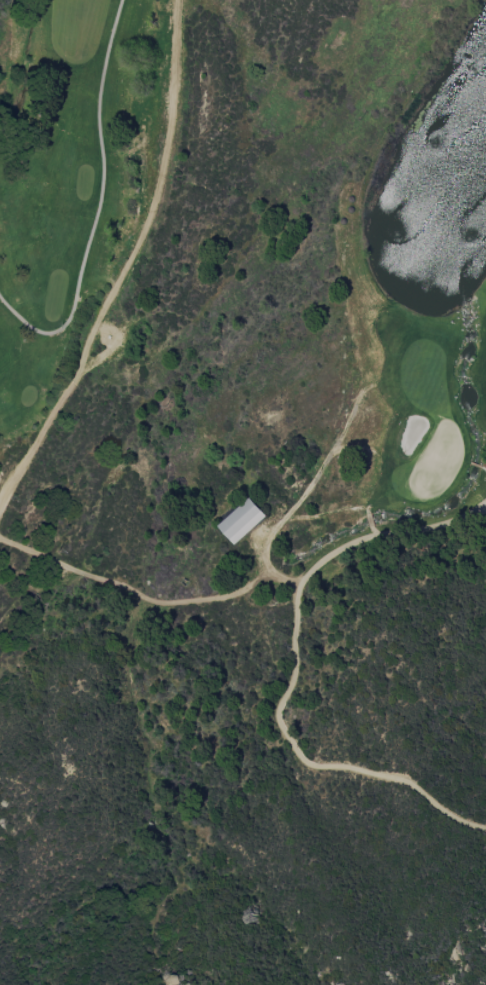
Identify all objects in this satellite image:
park: (68, 172)
park: (434, 287)
building: (240, 521)
road: (295, 677)

